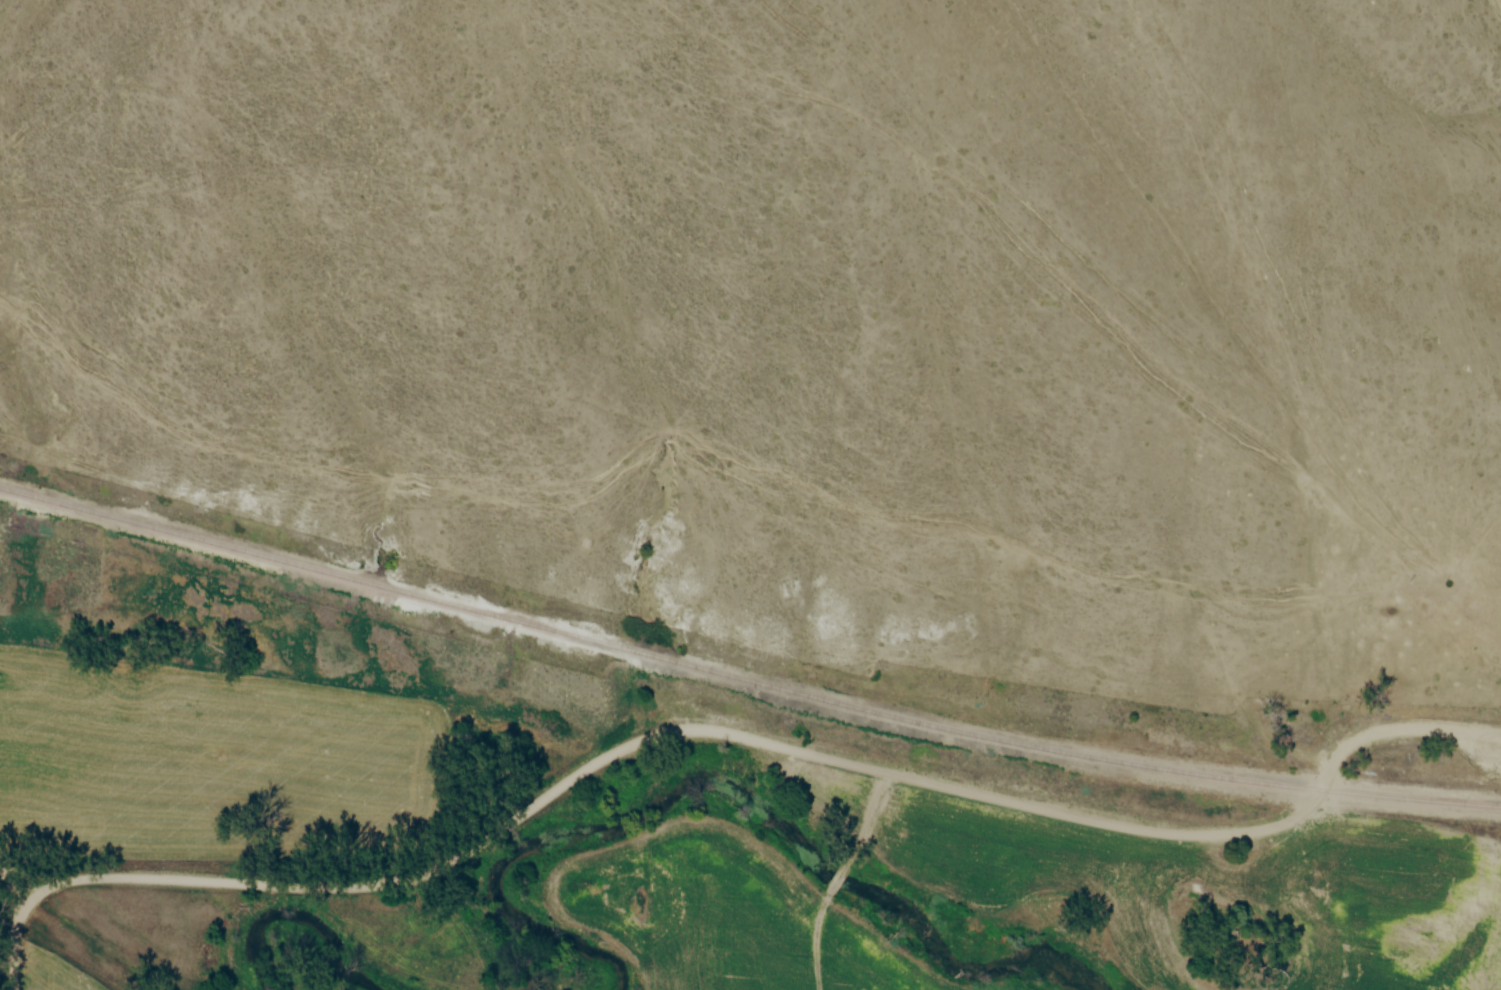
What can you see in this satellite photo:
railway: (744, 678)
road: (726, 733)
road: (15, 880)
crop: (57, 973)
crop: (315, 988)

